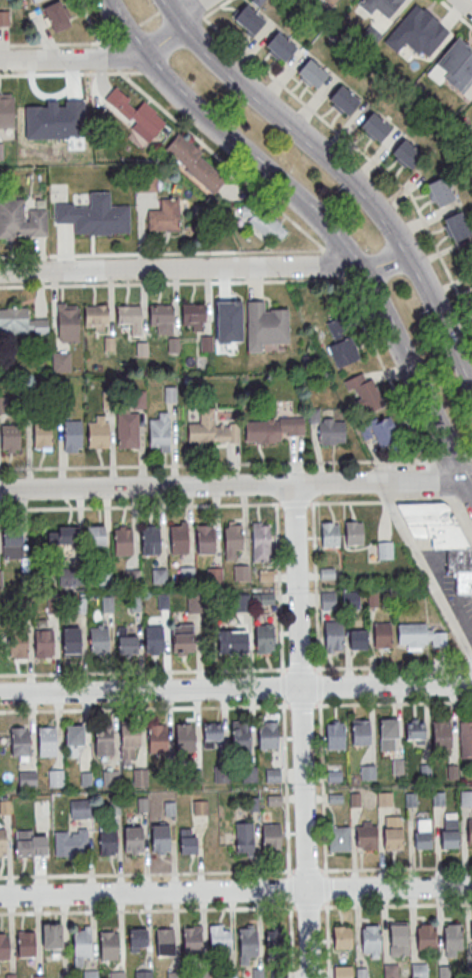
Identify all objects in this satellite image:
building: (35, 1)
building: (331, 1)
road: (466, 4)
road: (166, 5)
building: (380, 7)
road: (215, 8)
road: (455, 13)
building: (56, 15)
building: (4, 17)
road: (149, 17)
building: (249, 20)
road: (94, 22)
building: (416, 25)
road: (126, 30)
road: (57, 43)
building: (280, 47)
road: (111, 56)
road: (111, 60)
building: (454, 65)
road: (76, 72)
building: (312, 73)
building: (344, 101)
building: (7, 110)
building: (137, 113)
building: (54, 122)
building: (375, 127)
road: (192, 135)
road: (352, 144)
building: (1, 152)
building: (407, 154)
building: (194, 164)
road: (340, 171)
building: (440, 191)
building: (58, 192)
building: (95, 215)
building: (165, 215)
building: (21, 219)
building: (266, 224)
road: (298, 225)
road: (322, 225)
building: (456, 225)
road: (163, 254)
road: (333, 264)
road: (383, 264)
road: (175, 268)
road: (353, 278)
road: (173, 282)
building: (471, 285)
building: (193, 312)
building: (96, 316)
building: (131, 318)
building: (161, 318)
building: (20, 322)
building: (68, 323)
building: (266, 326)
building: (340, 343)
building: (61, 361)
road: (383, 367)
building: (362, 392)
building: (211, 428)
building: (270, 428)
building: (328, 428)
building: (380, 429)
building: (128, 430)
building: (159, 432)
building: (73, 434)
building: (98, 434)
building: (43, 436)
building: (10, 438)
road: (470, 458)
road: (429, 459)
road: (450, 459)
road: (213, 463)
road: (438, 479)
road: (236, 485)
road: (312, 490)
road: (276, 491)
road: (454, 499)
road: (466, 499)
road: (378, 502)
road: (294, 504)
road: (140, 507)
building: (425, 513)
road: (460, 522)
building: (353, 532)
building: (329, 534)
building: (63, 535)
building: (234, 536)
building: (97, 539)
building: (179, 539)
building: (262, 539)
building: (206, 540)
building: (123, 541)
building: (150, 541)
building: (12, 543)
building: (384, 549)
building: (450, 551)
building: (240, 571)
road: (425, 572)
building: (158, 575)
building: (70, 577)
building: (0, 578)
road: (279, 586)
road: (314, 586)
building: (351, 599)
building: (328, 600)
building: (242, 602)
building: (333, 635)
building: (383, 636)
building: (419, 636)
building: (182, 638)
building: (264, 638)
building: (155, 639)
building: (357, 639)
building: (99, 640)
building: (71, 641)
building: (231, 641)
building: (126, 642)
building: (18, 643)
building: (44, 643)
road: (470, 666)
road: (390, 667)
road: (300, 668)
road: (143, 670)
road: (282, 686)
road: (319, 686)
road: (236, 689)
road: (393, 702)
road: (302, 705)
road: (144, 707)
road: (302, 730)
building: (359, 731)
building: (414, 731)
building: (212, 732)
building: (241, 733)
building: (130, 734)
building: (335, 734)
building: (387, 734)
building: (75, 735)
building: (268, 735)
building: (441, 736)
building: (184, 737)
building: (157, 738)
building: (465, 738)
building: (20, 741)
building: (47, 741)
building: (104, 742)
building: (368, 771)
building: (27, 780)
road: (322, 786)
road: (286, 787)
building: (466, 797)
building: (385, 798)
building: (449, 829)
building: (469, 831)
building: (392, 832)
building: (422, 833)
building: (366, 834)
building: (271, 836)
building: (244, 837)
building: (161, 838)
building: (339, 838)
building: (134, 840)
building: (187, 840)
building: (108, 842)
building: (3, 843)
building: (71, 843)
building: (25, 844)
road: (395, 868)
road: (307, 870)
road: (147, 873)
road: (325, 887)
road: (289, 888)
road: (236, 890)
road: (396, 904)
road: (308, 906)
road: (148, 909)
building: (471, 931)
building: (342, 936)
building: (425, 936)
building: (219, 937)
building: (453, 937)
building: (51, 938)
building: (137, 938)
road: (290, 939)
road: (327, 939)
building: (371, 939)
building: (399, 939)
building: (192, 940)
building: (276, 941)
building: (165, 942)
building: (248, 942)
building: (83, 943)
building: (27, 944)
building: (110, 946)
building: (4, 947)
building: (419, 970)
building: (391, 971)
building: (469, 971)
building: (343, 972)
building: (443, 972)
building: (257, 973)
building: (279, 973)
building: (361, 973)
building: (91, 974)
building: (118, 974)
building: (143, 974)
building: (174, 974)
building: (201, 974)
building: (229, 974)
building: (65, 975)
building: (38, 976)

